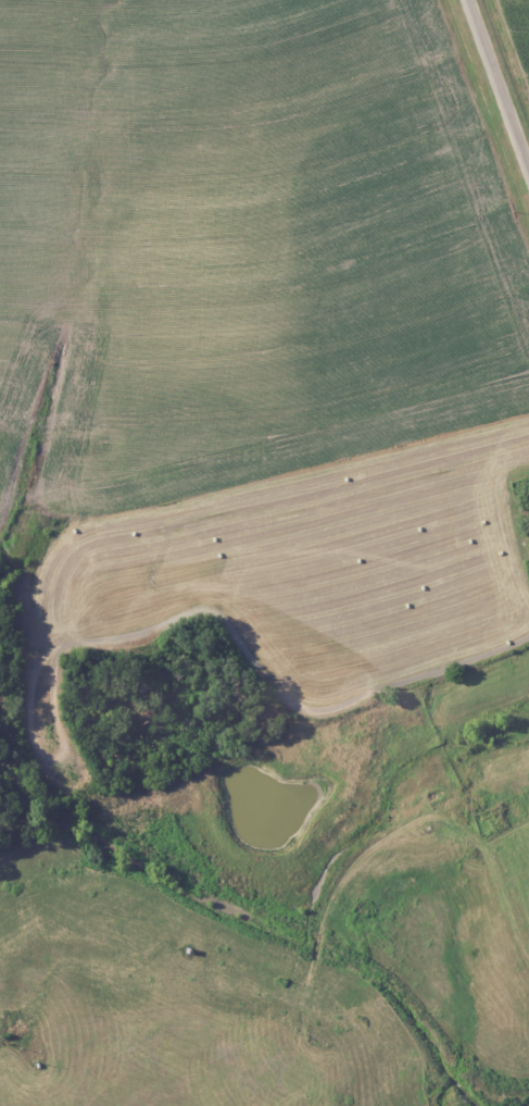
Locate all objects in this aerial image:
road: (497, 84)

